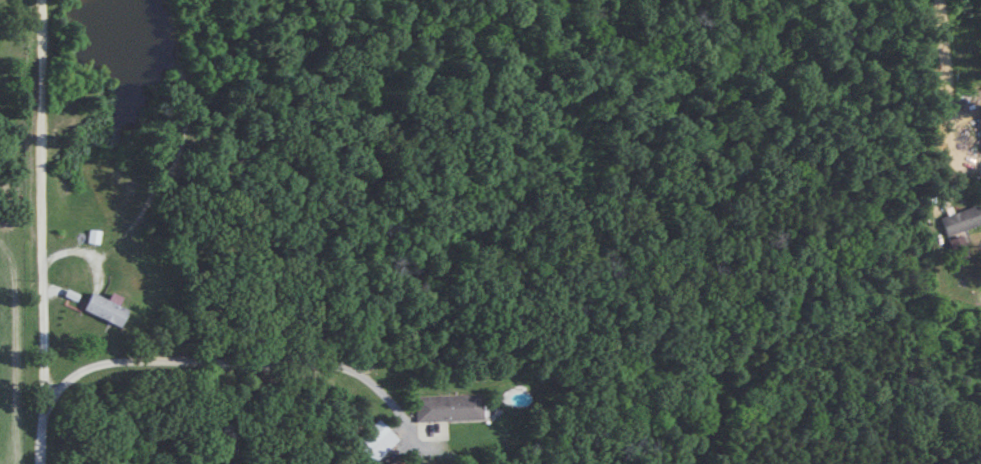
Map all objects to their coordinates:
road: (944, 98)
building: (962, 221)
road: (39, 232)
building: (958, 245)
building: (105, 309)
road: (230, 361)
building: (448, 408)
building: (375, 441)

